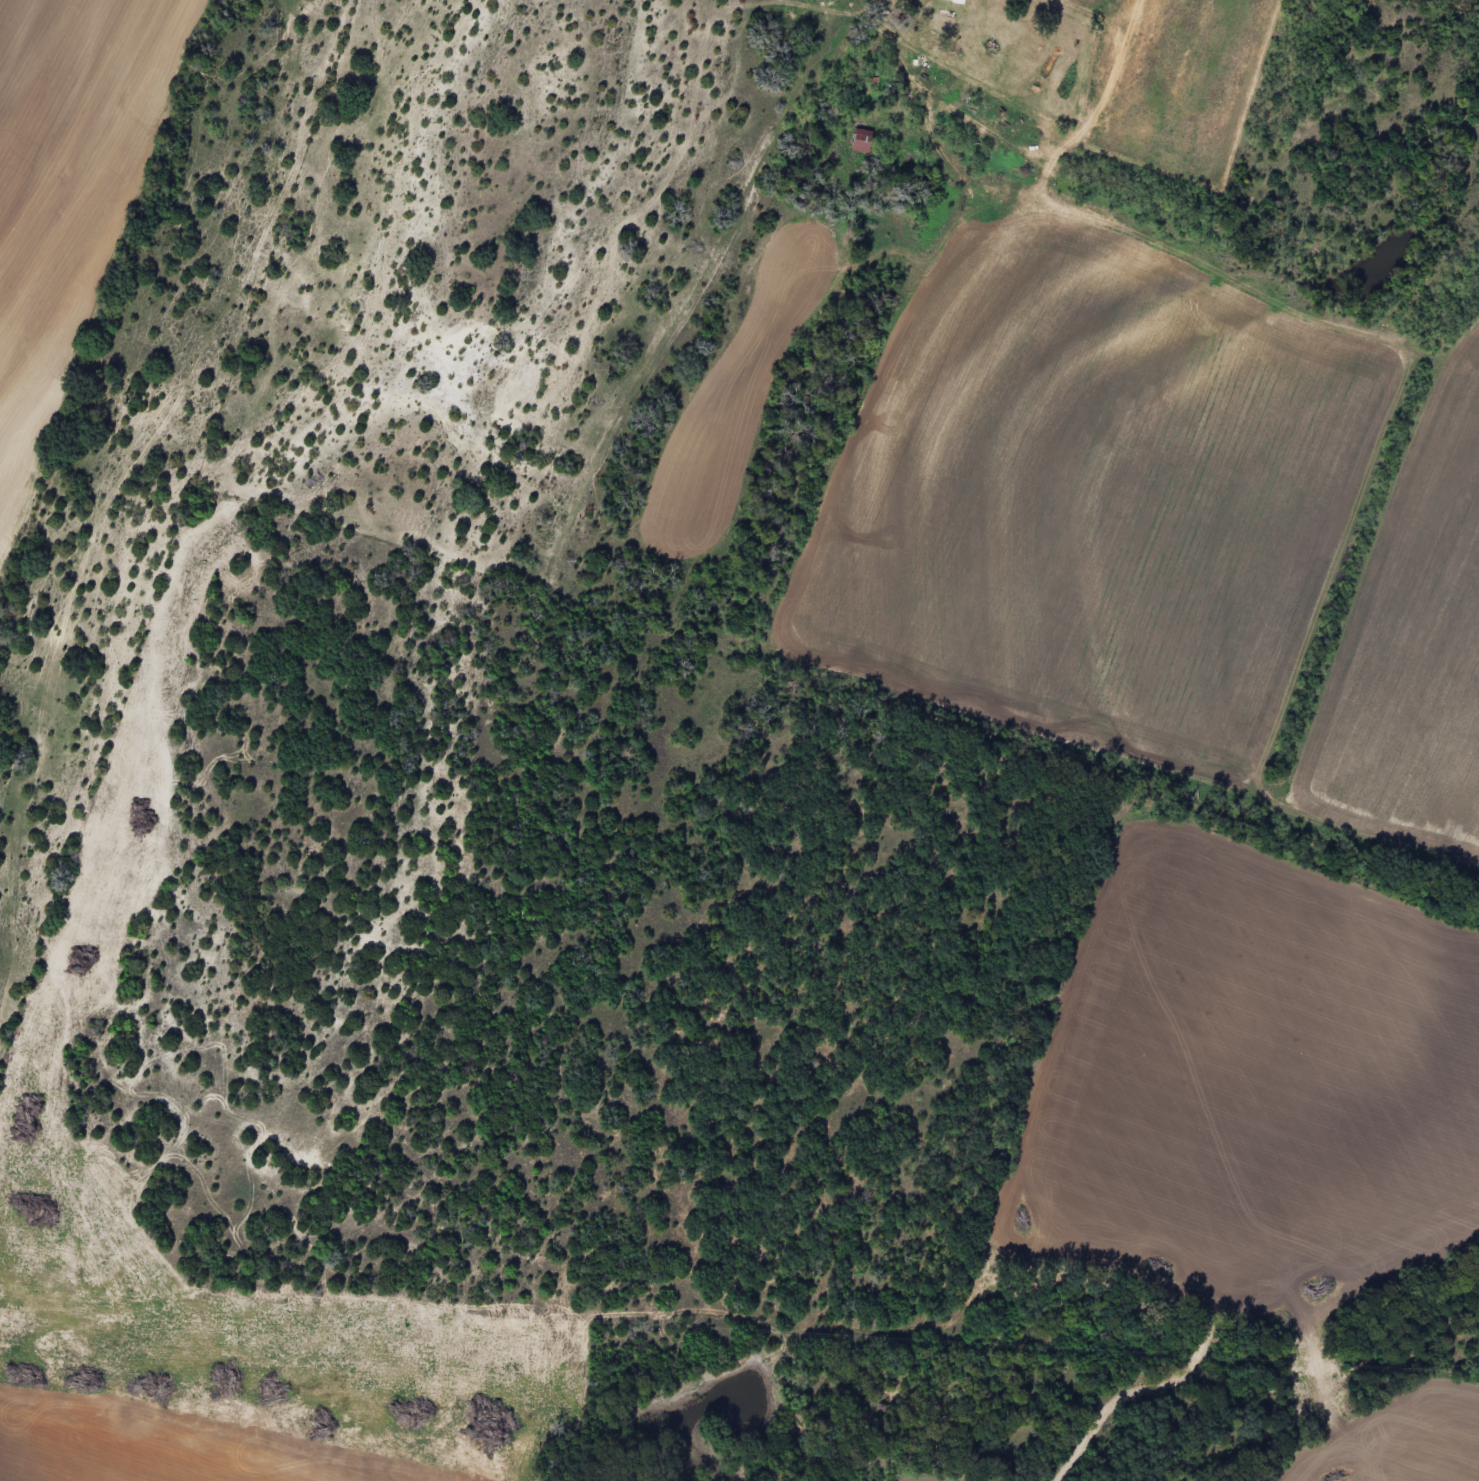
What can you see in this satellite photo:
road: (872, 1)
building: (959, 1)
building: (862, 141)

